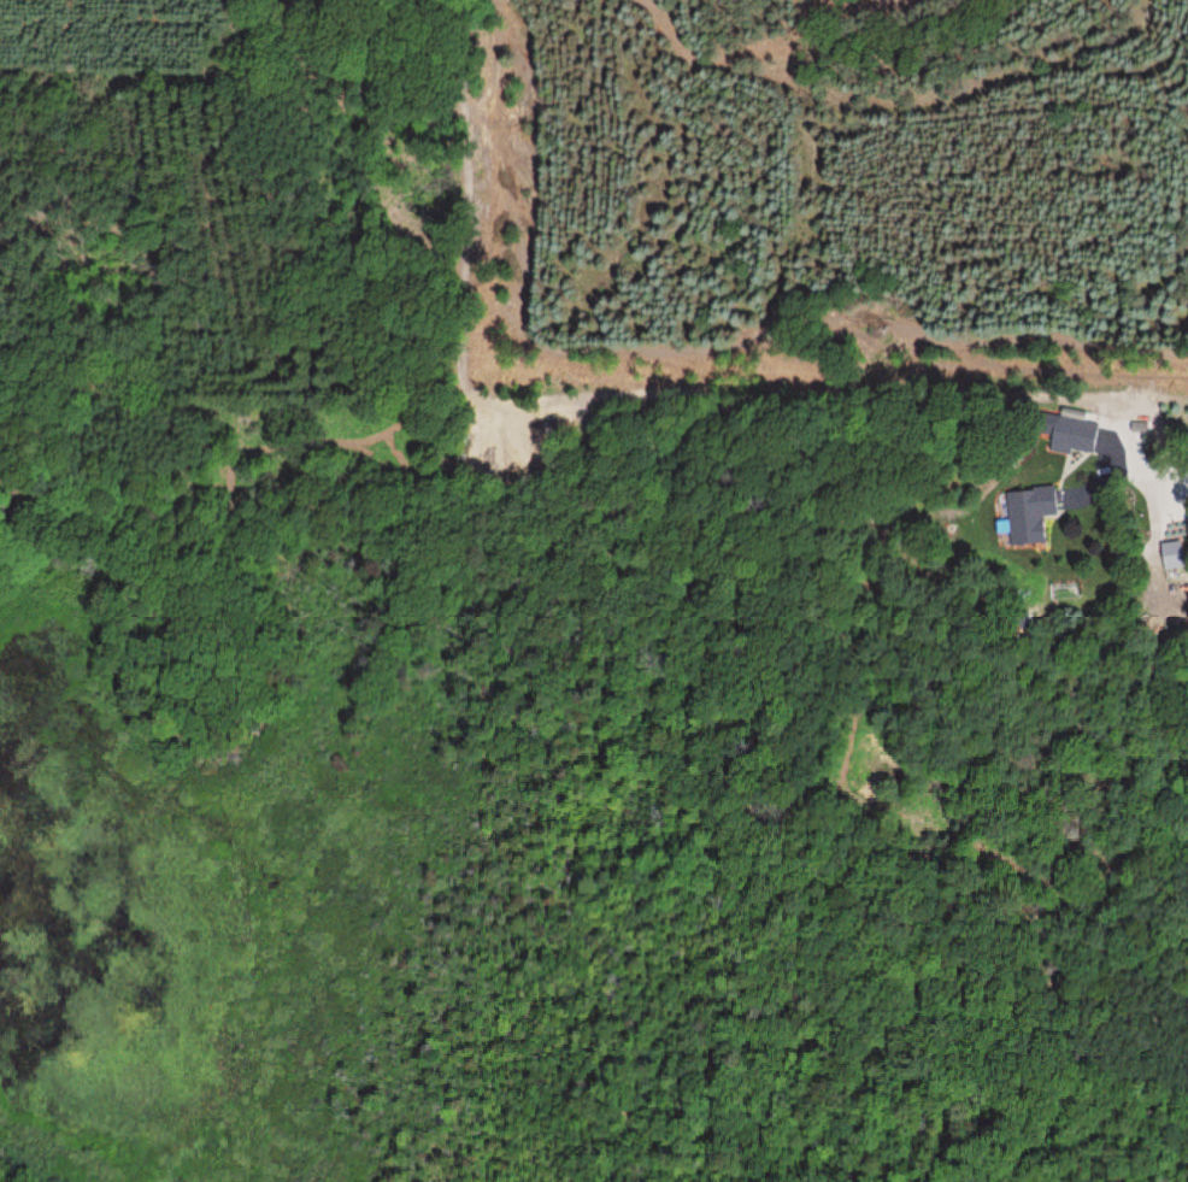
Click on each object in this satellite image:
building: (1077, 434)
building: (1029, 516)

